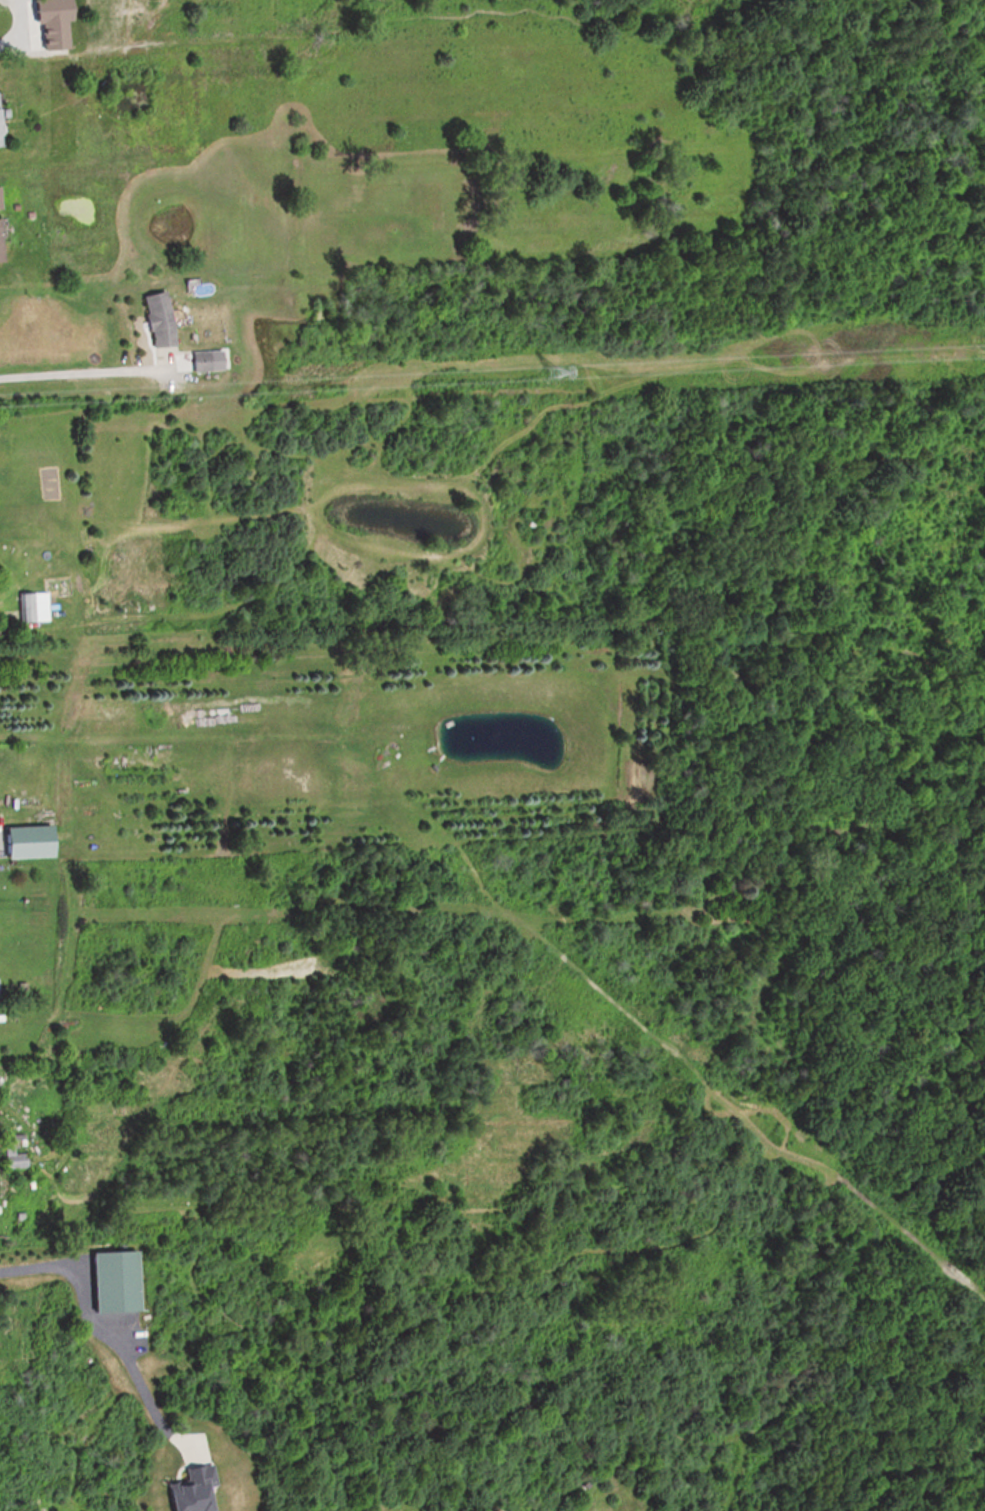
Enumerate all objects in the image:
building: (155, 319)
power tower: (551, 371)
road: (84, 375)
building: (31, 607)
building: (24, 842)
building: (11, 1158)
road: (96, 1319)

